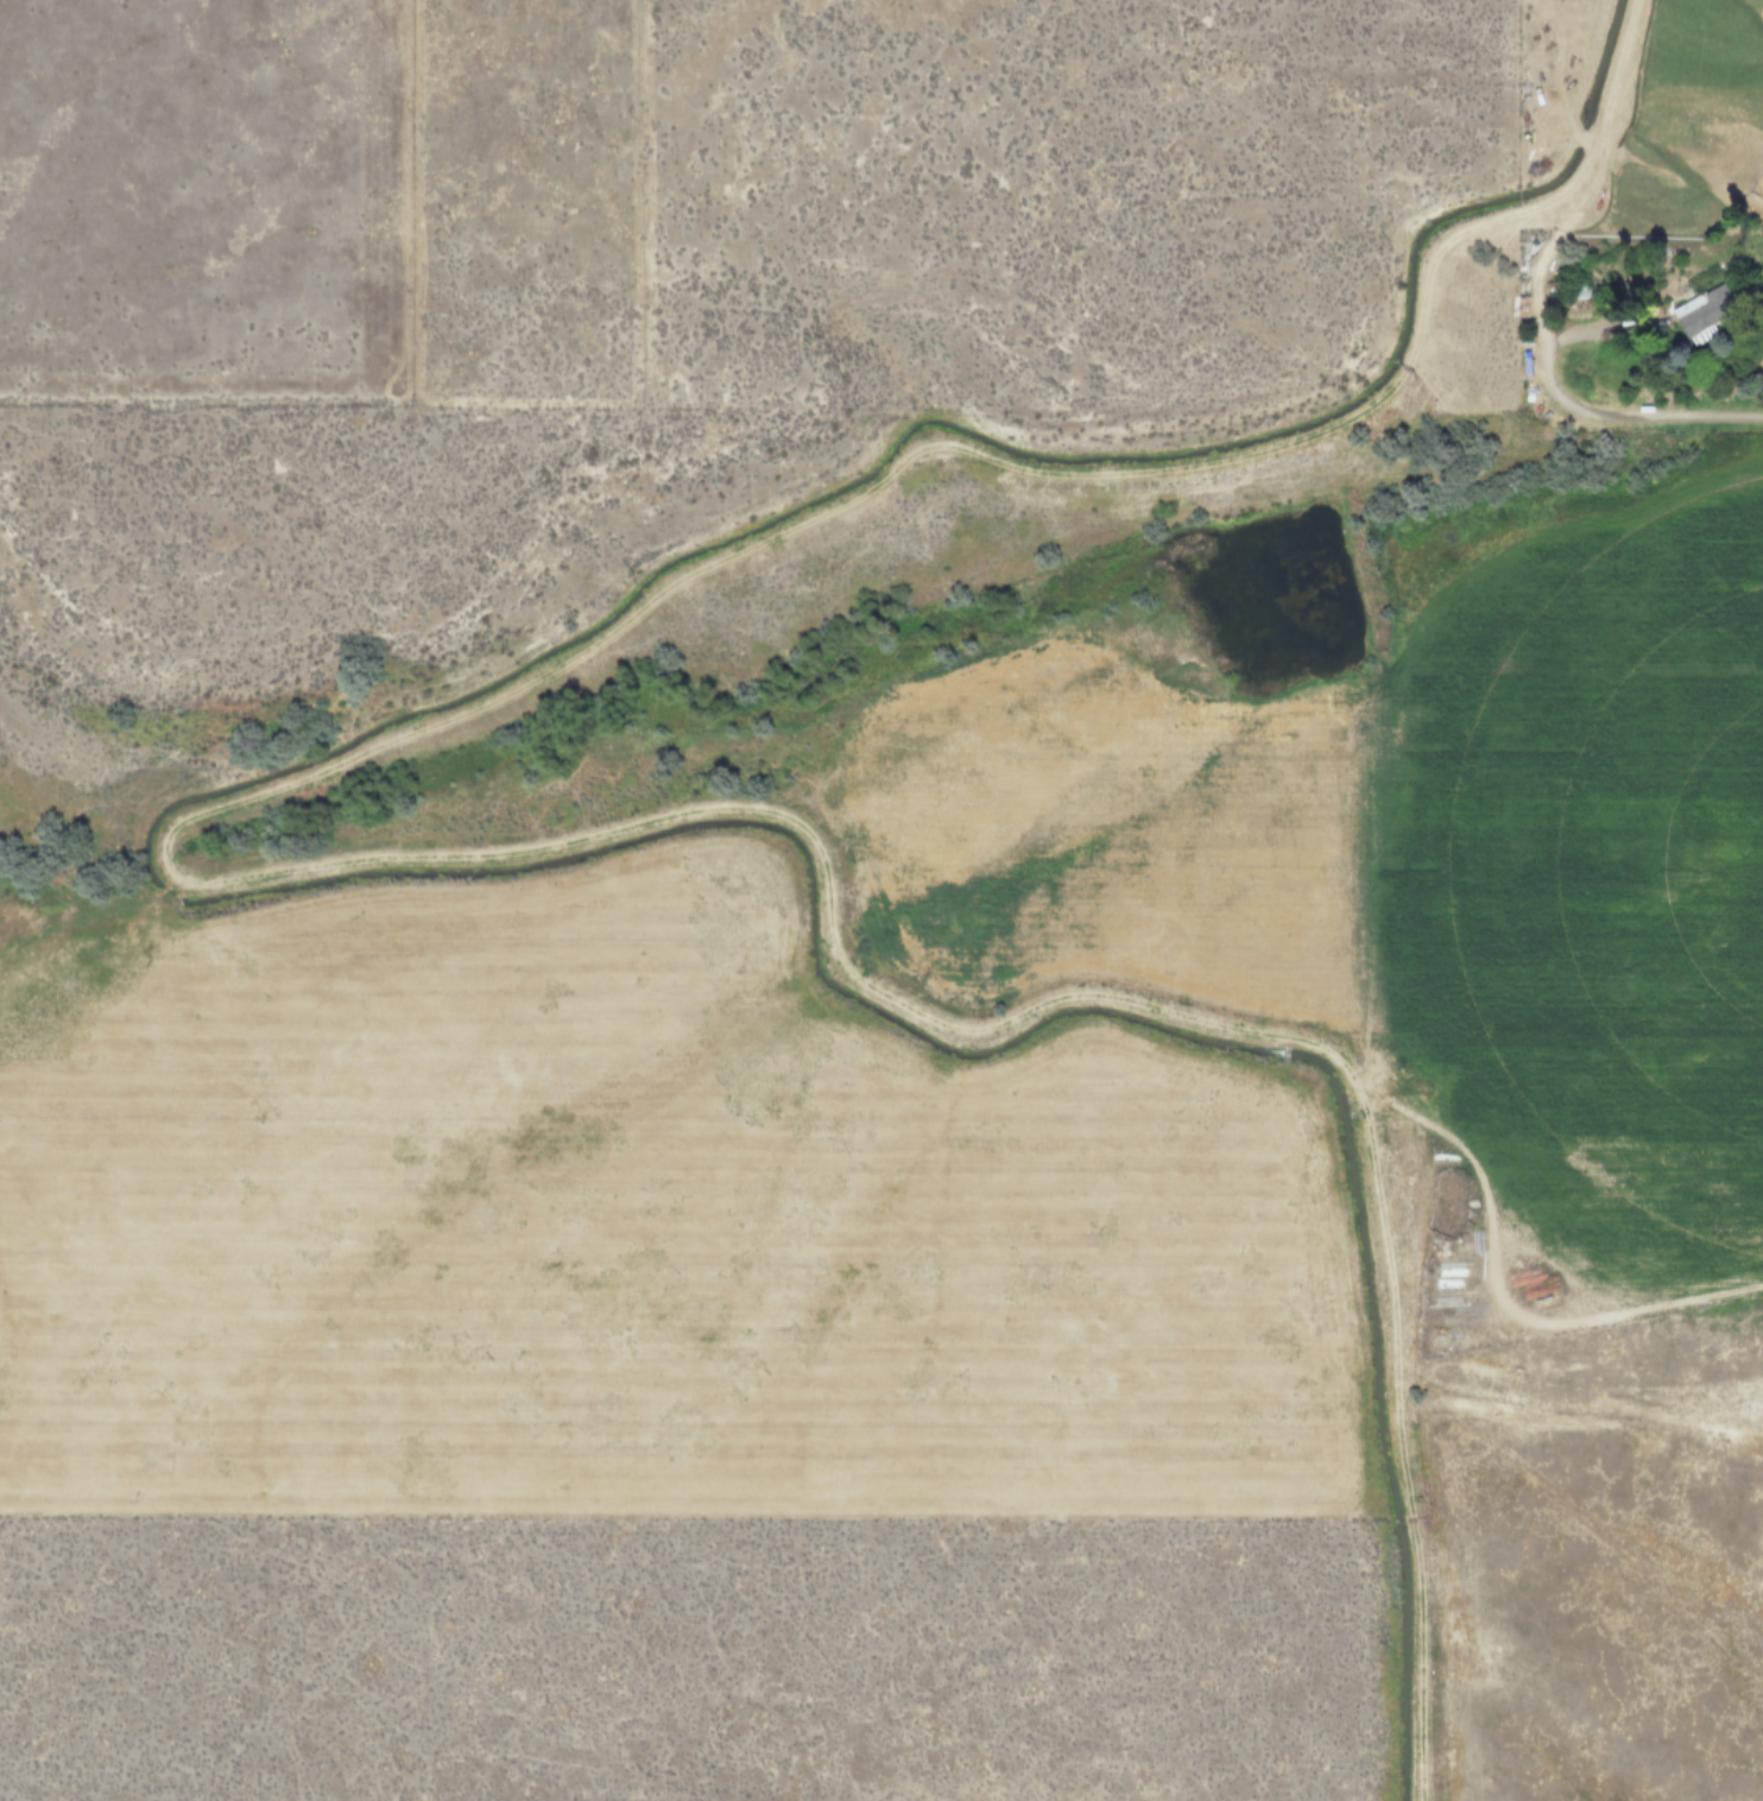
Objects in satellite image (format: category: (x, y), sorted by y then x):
building: (1701, 311)
road: (1689, 413)
road: (1500, 1293)

